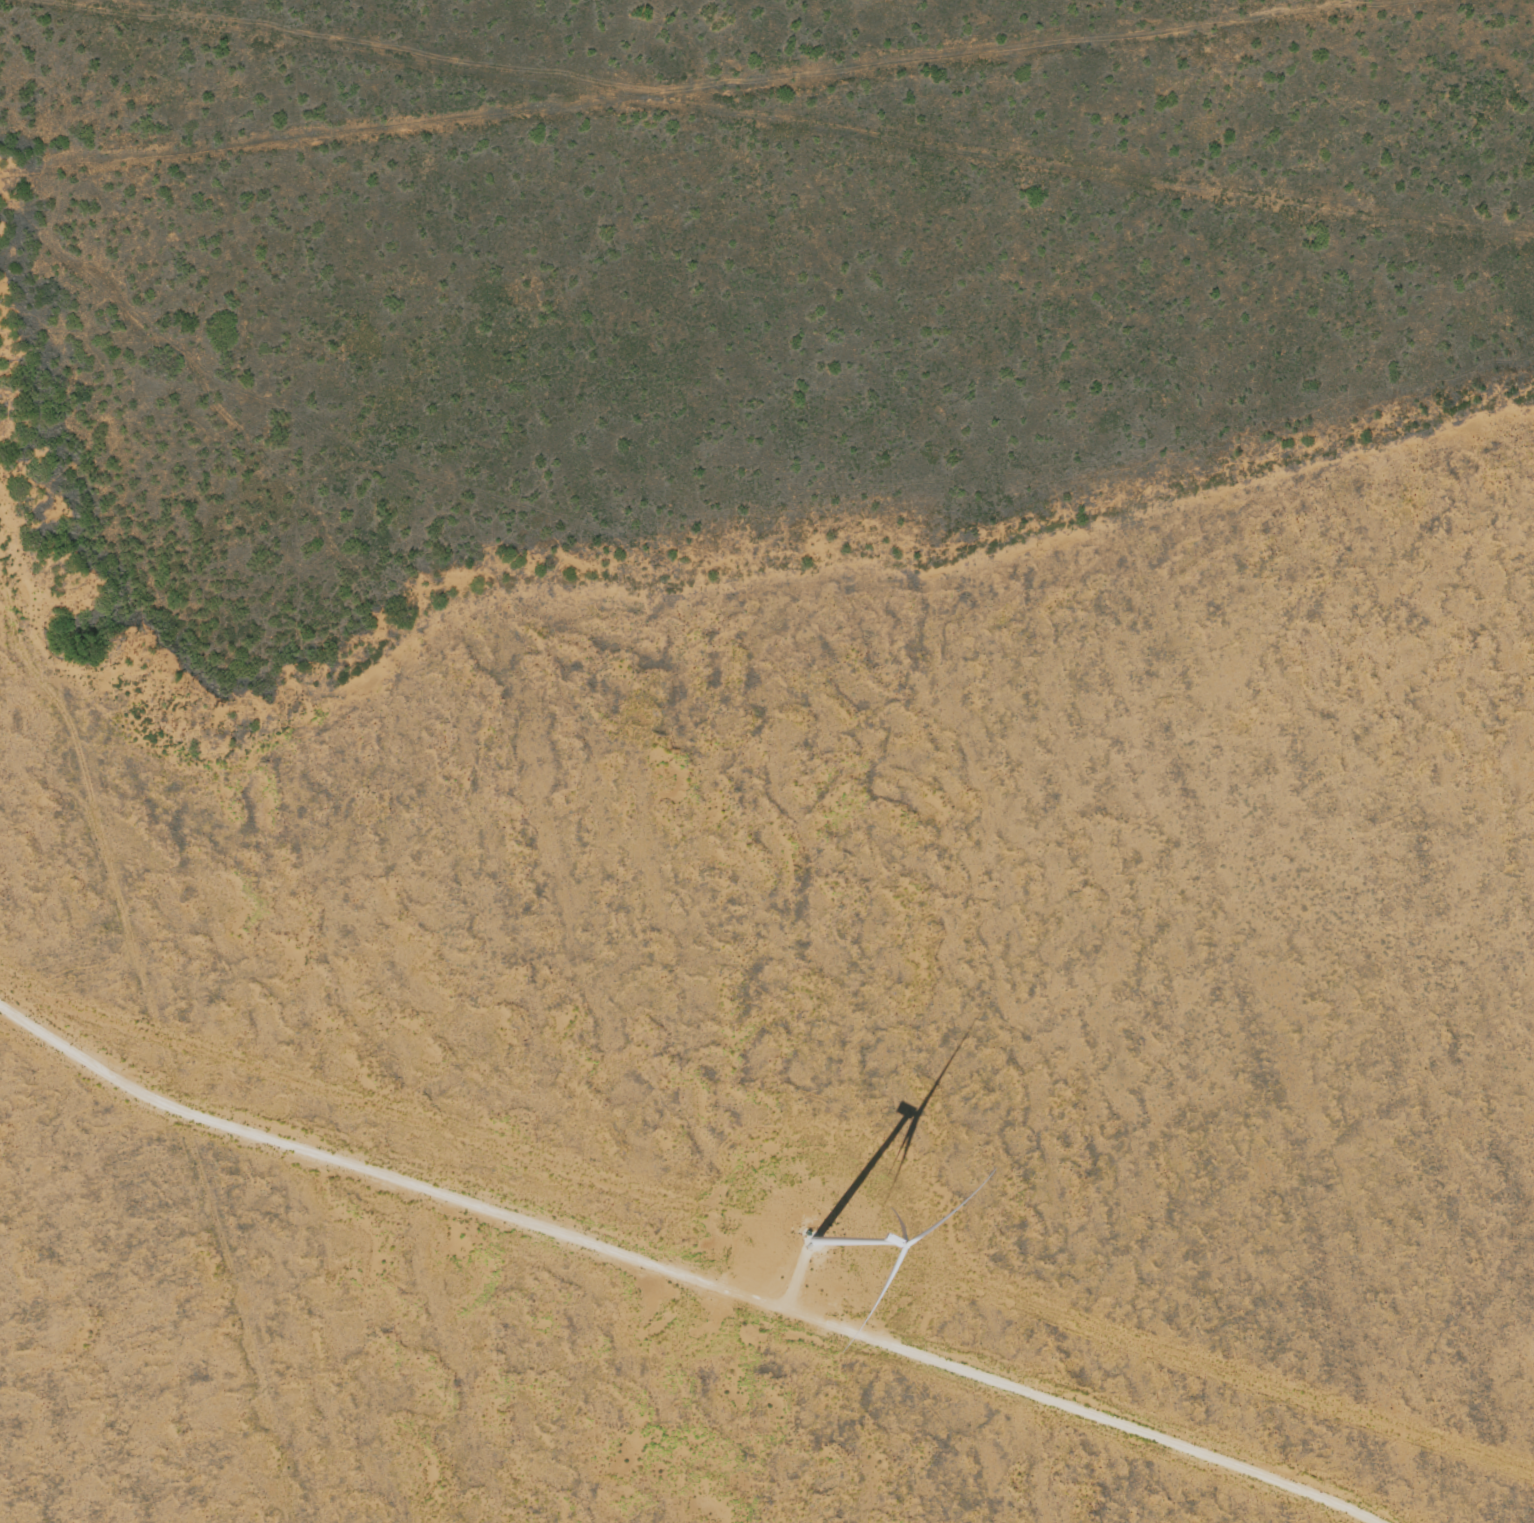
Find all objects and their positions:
wind turbine: (805, 1246)

